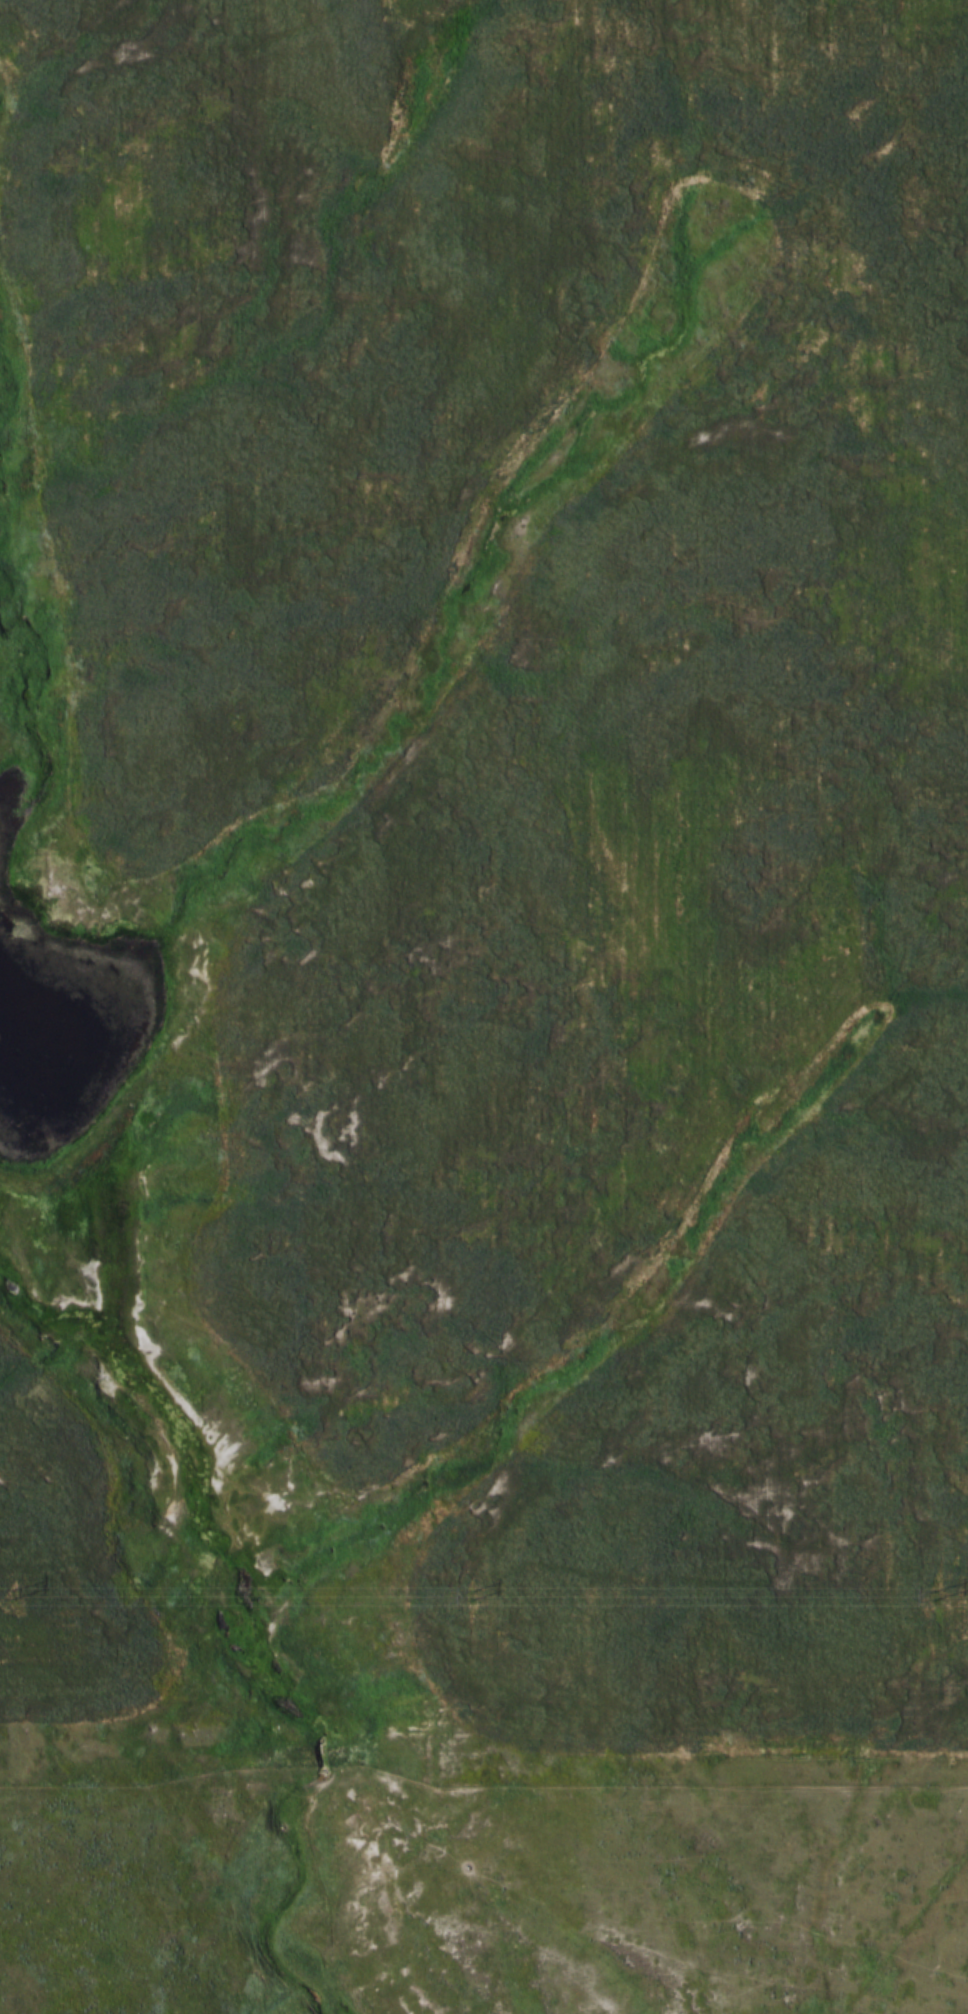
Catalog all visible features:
power tower: (13, 1596)
power tower: (474, 1597)
power tower: (936, 1597)

